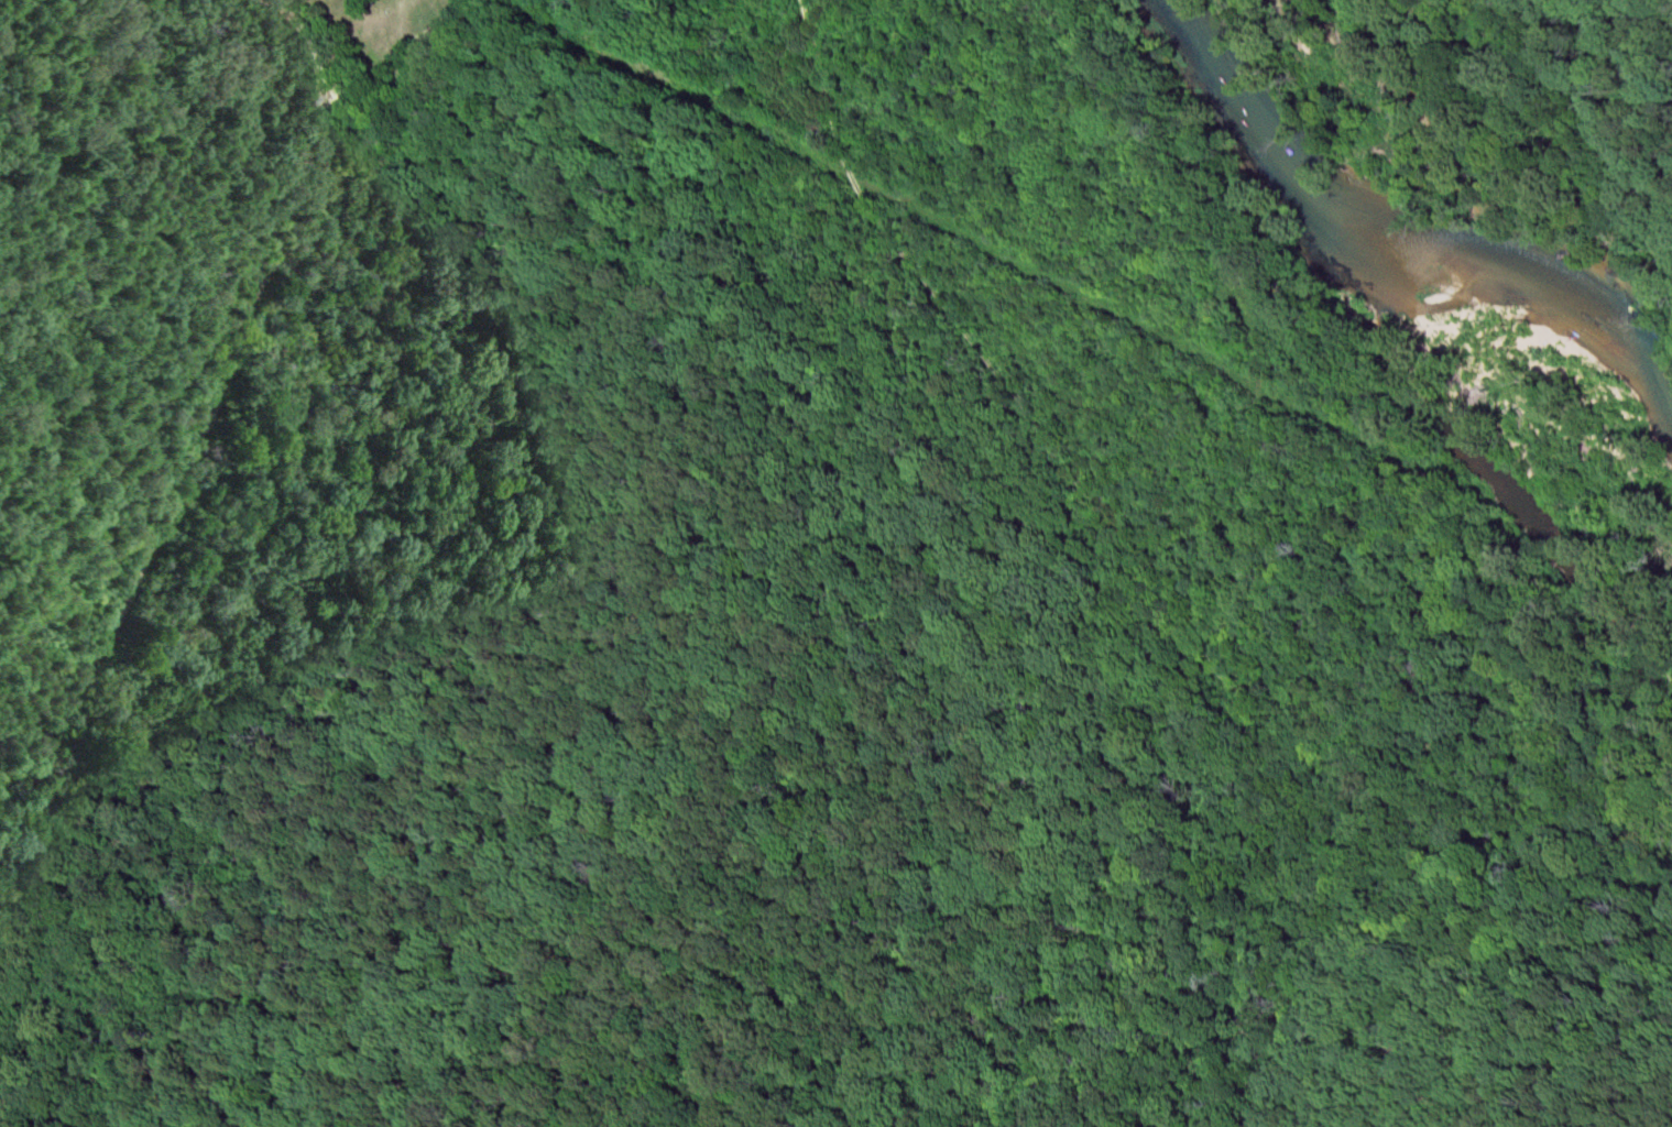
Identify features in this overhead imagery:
river: (1390, 240)
road: (203, 446)

